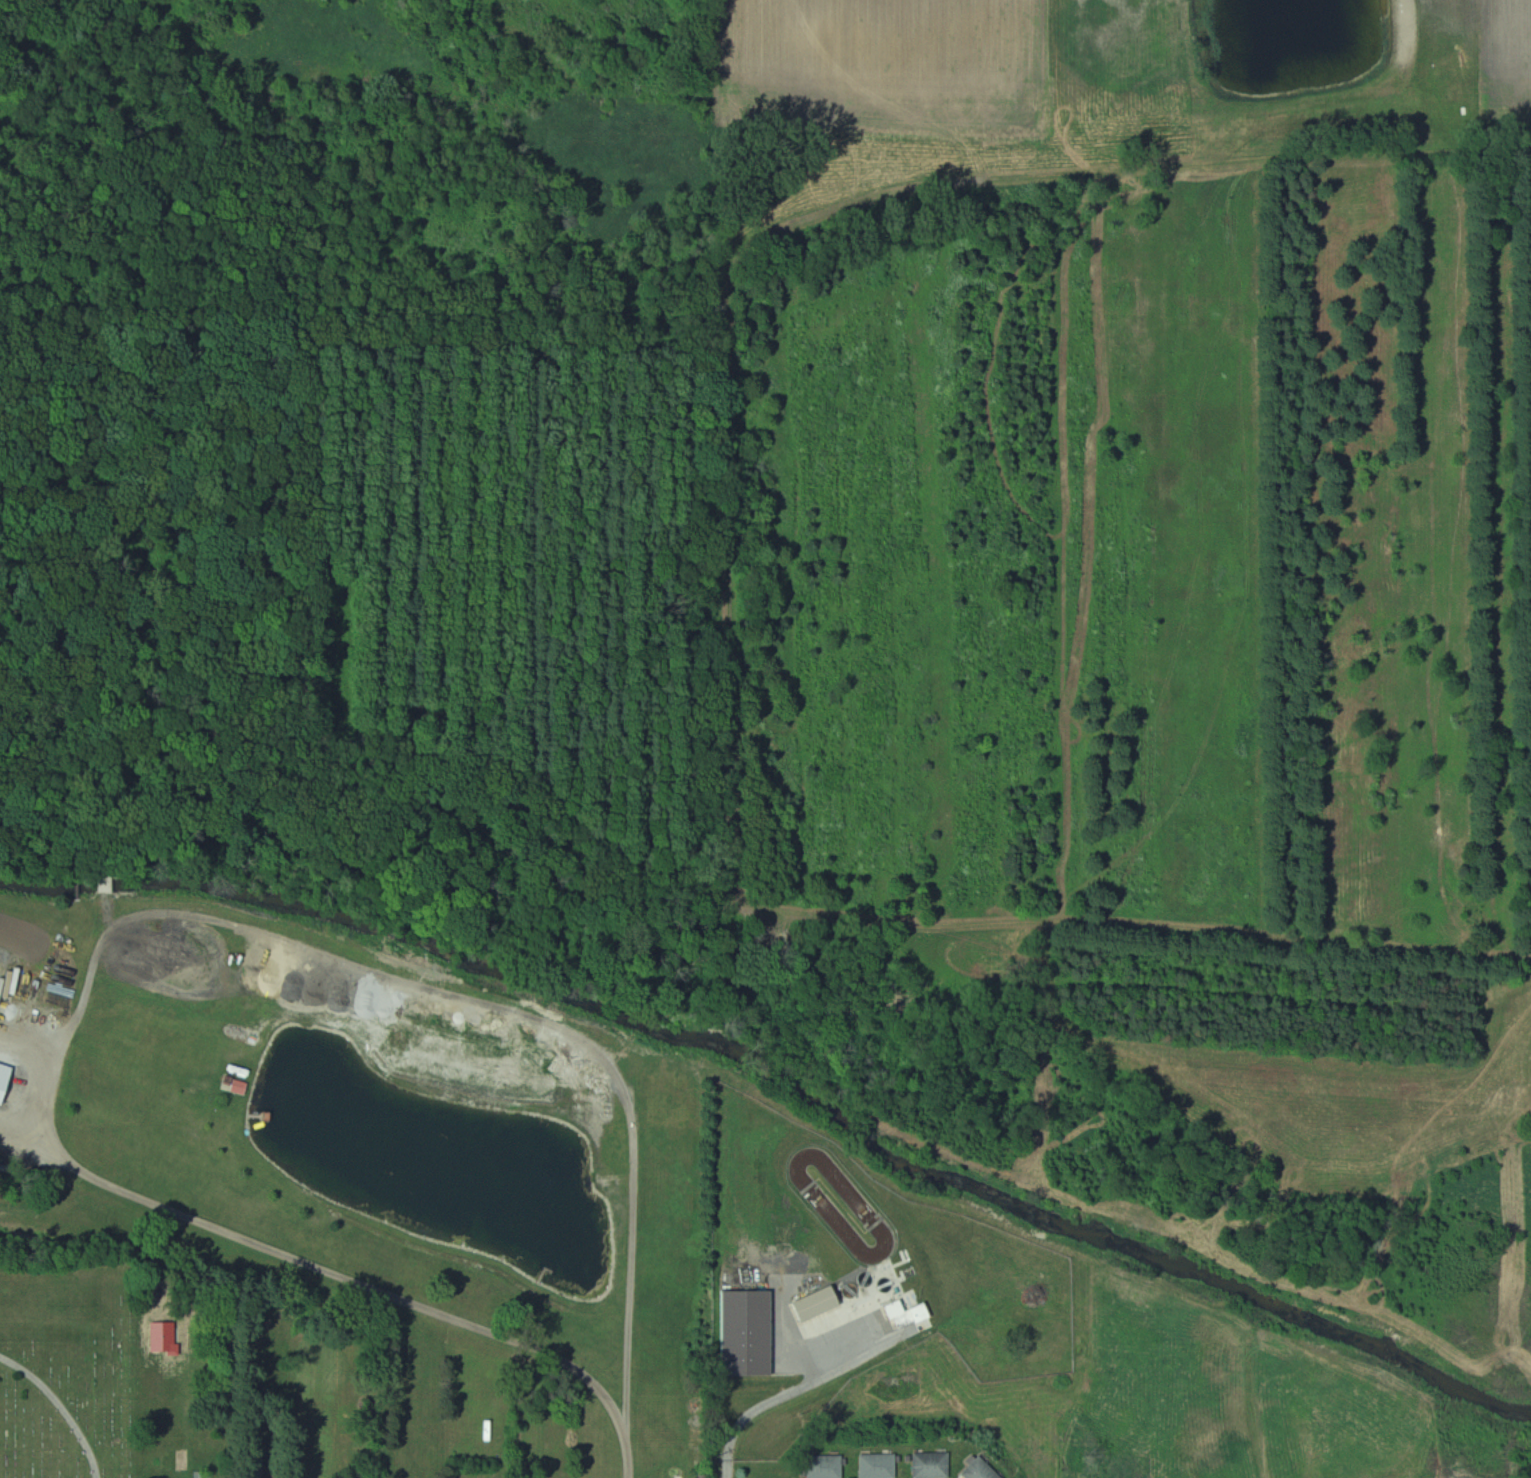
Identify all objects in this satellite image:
building: (6, 1081)
building: (236, 1085)
road: (338, 1273)
building: (820, 1304)
park: (74, 1361)
road: (778, 1394)
building: (880, 1465)
building: (933, 1465)
building: (827, 1466)
road: (726, 1470)
building: (982, 1470)

